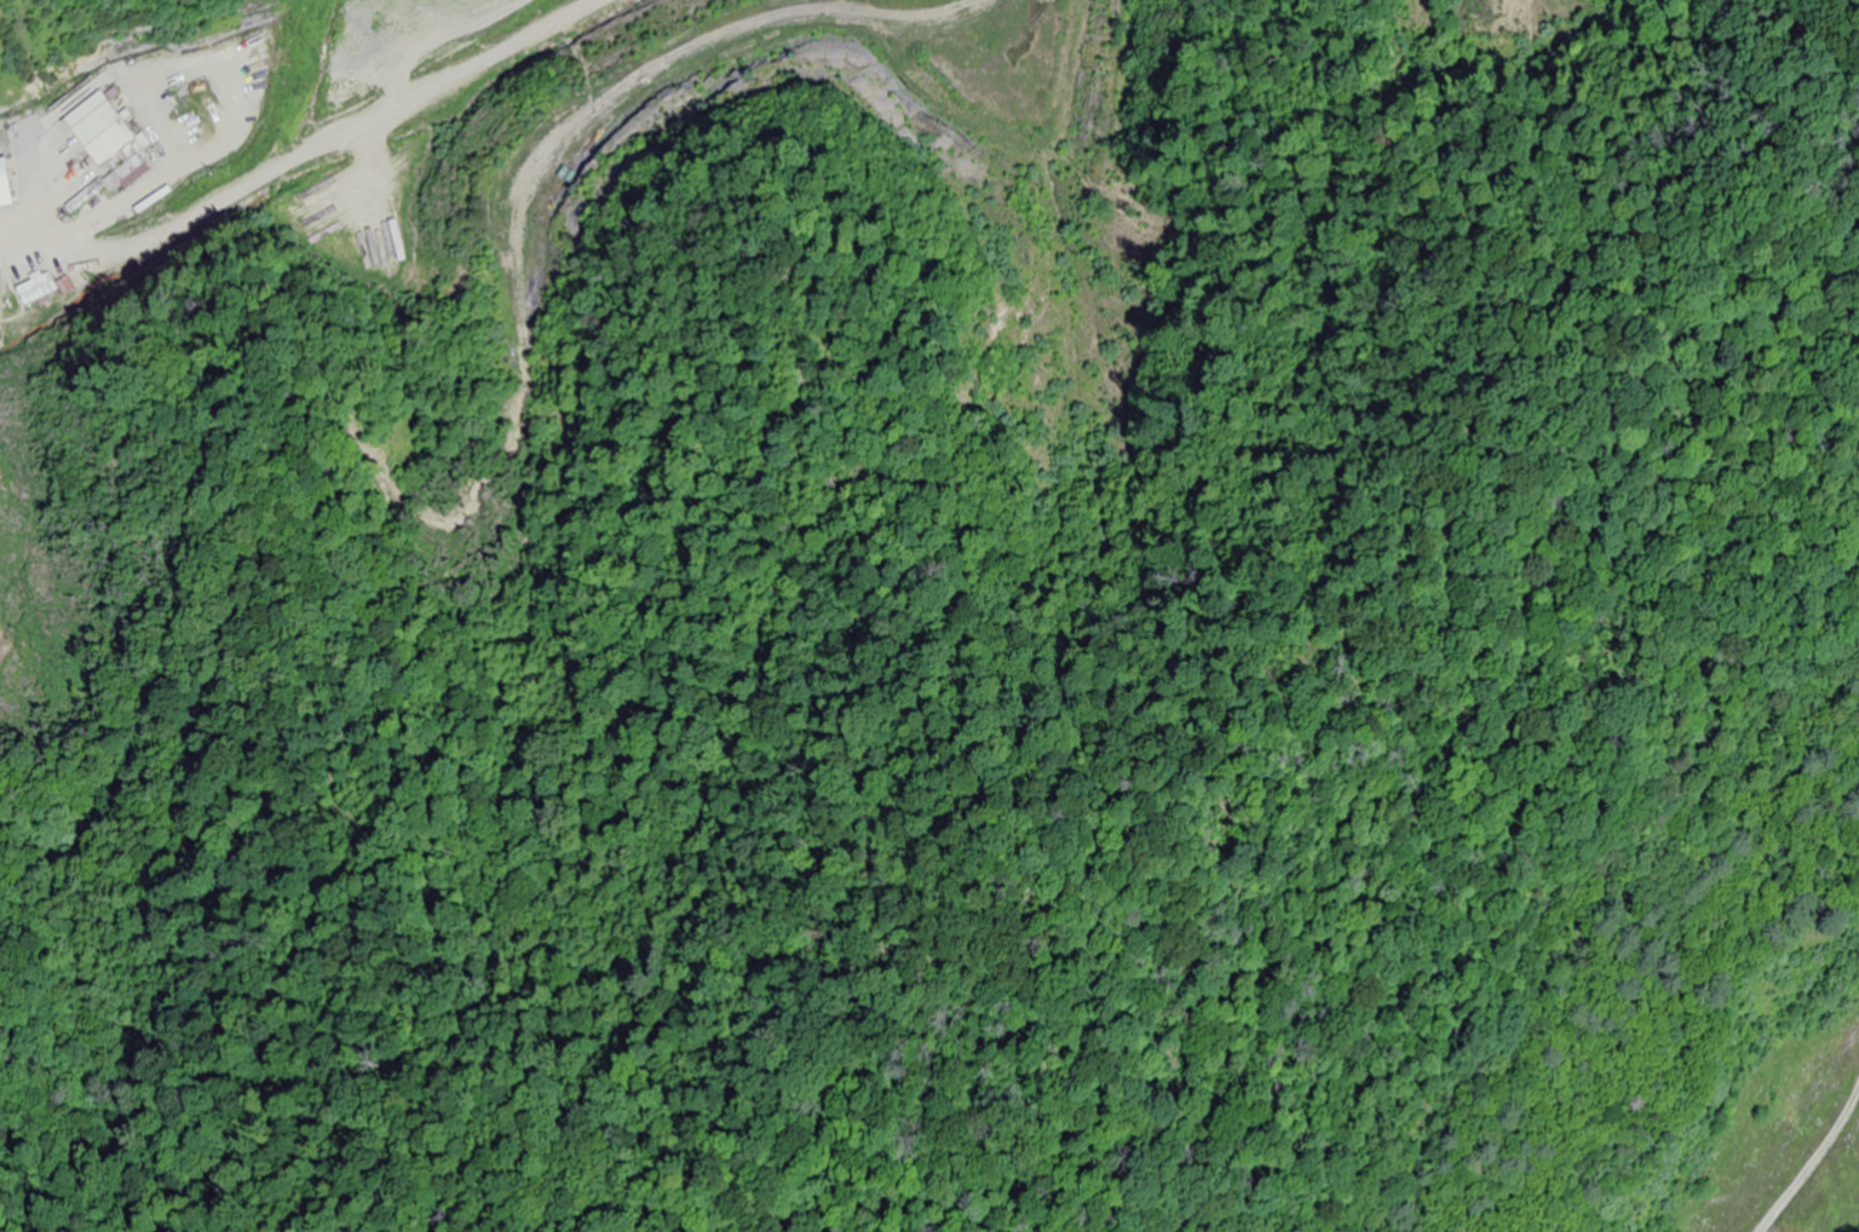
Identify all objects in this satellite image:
building: (214, 127)
building: (104, 149)
building: (5, 165)
building: (405, 167)
road: (114, 215)
building: (363, 224)
building: (40, 289)
building: (1709, 1176)

